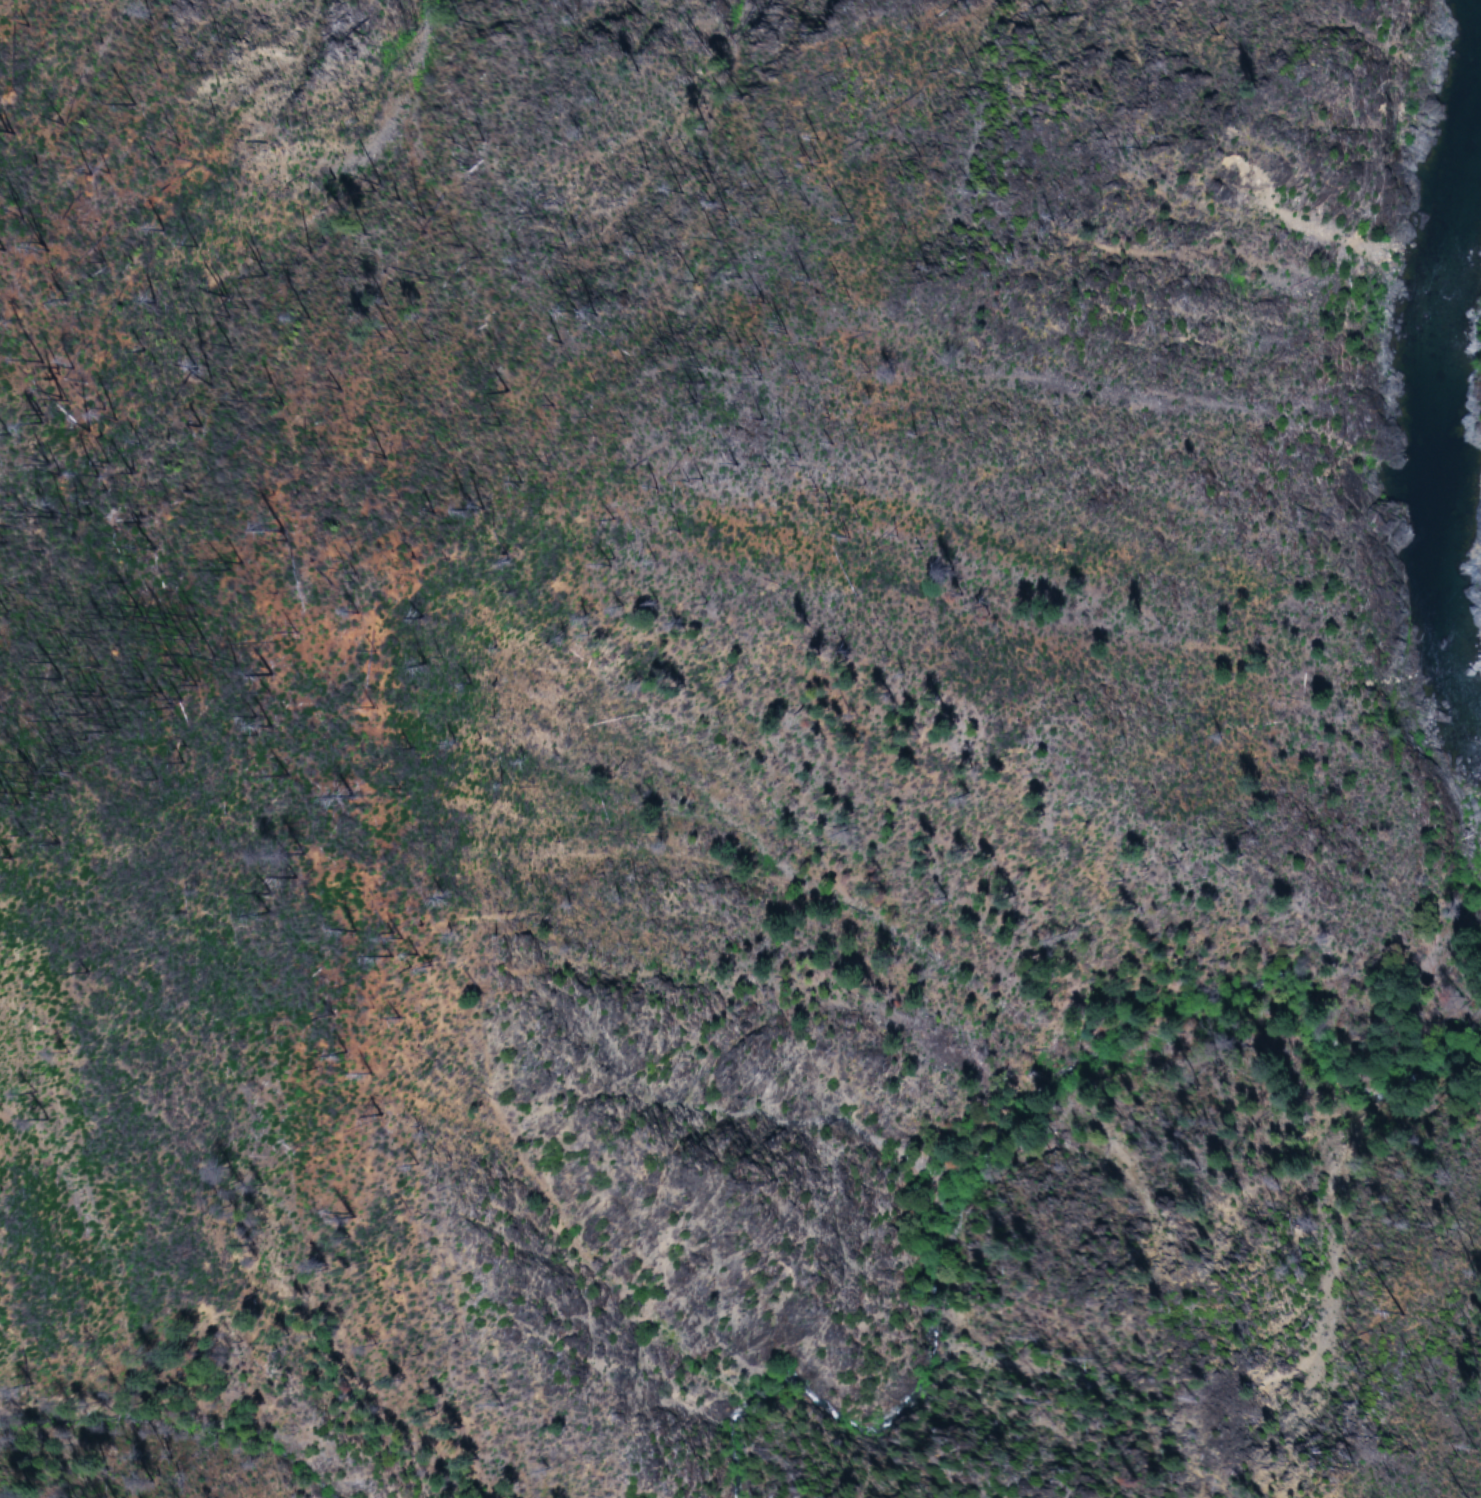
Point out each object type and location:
river: (1409, 454)

